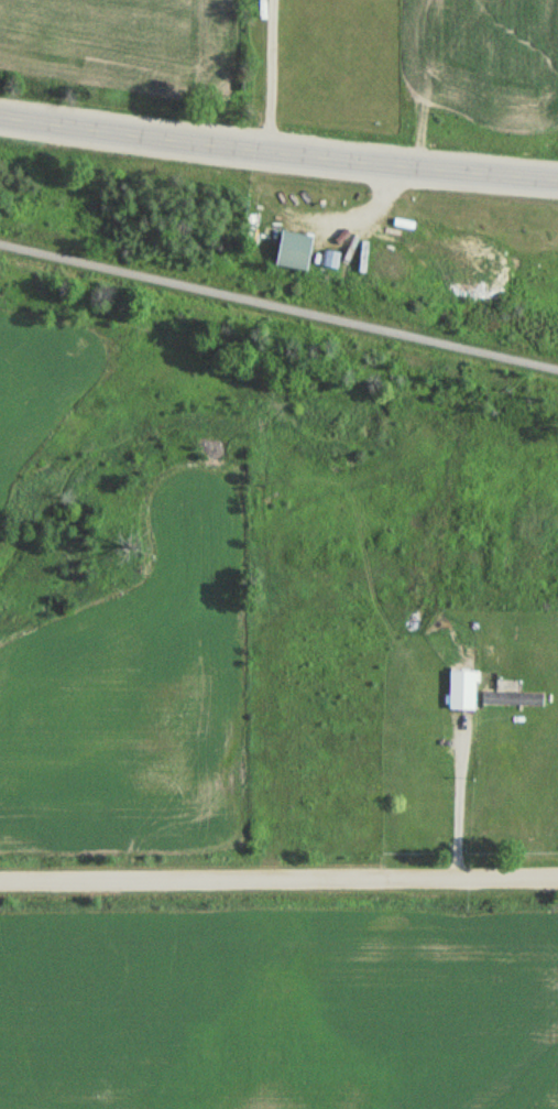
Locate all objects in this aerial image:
road: (277, 154)
building: (286, 250)
building: (329, 259)
road: (278, 306)
building: (459, 691)
building: (512, 698)
road: (278, 888)

